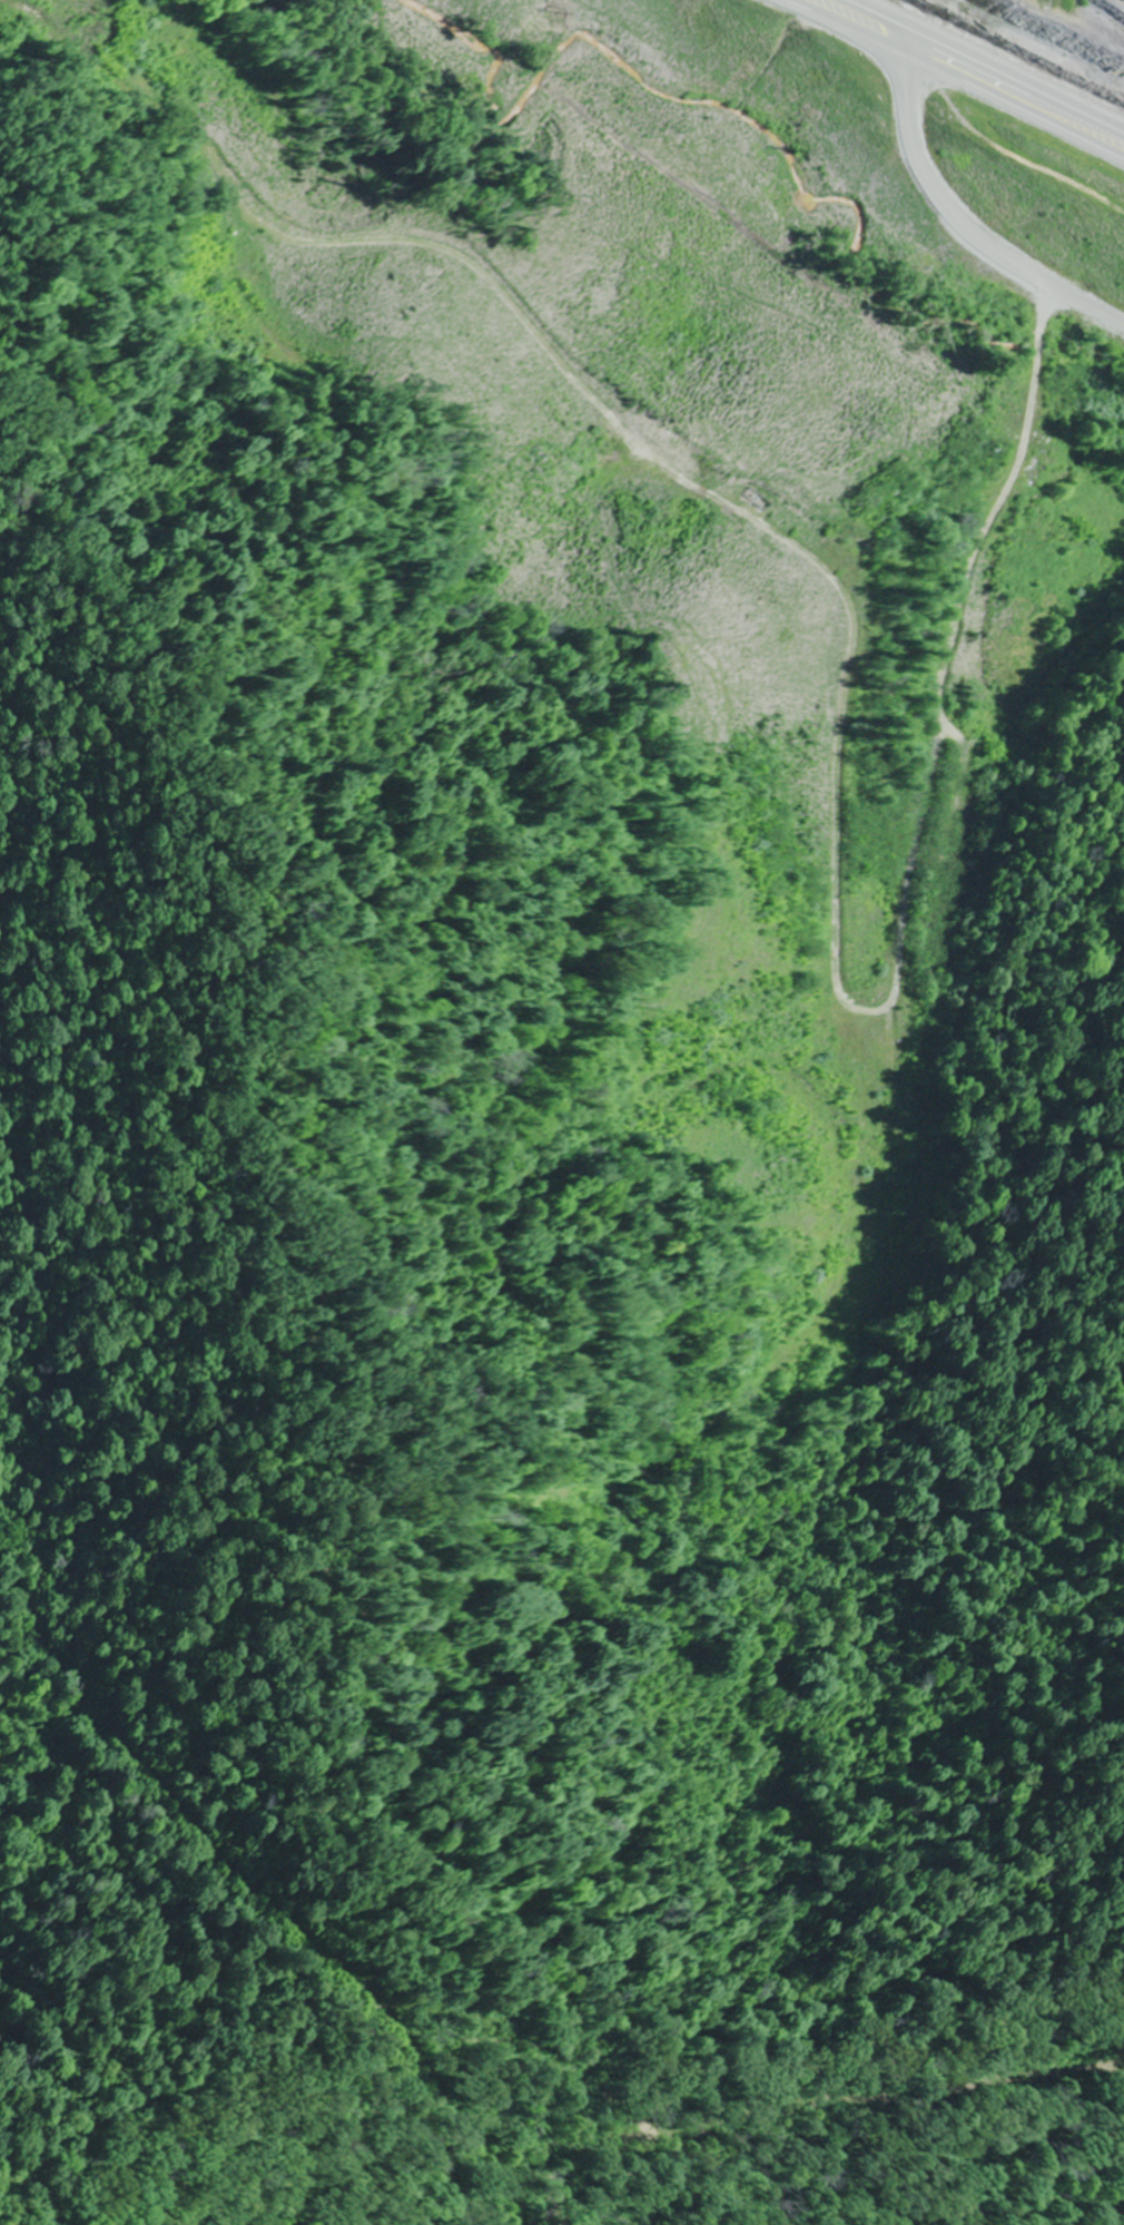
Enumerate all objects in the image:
road: (1000, 57)
road: (945, 213)

